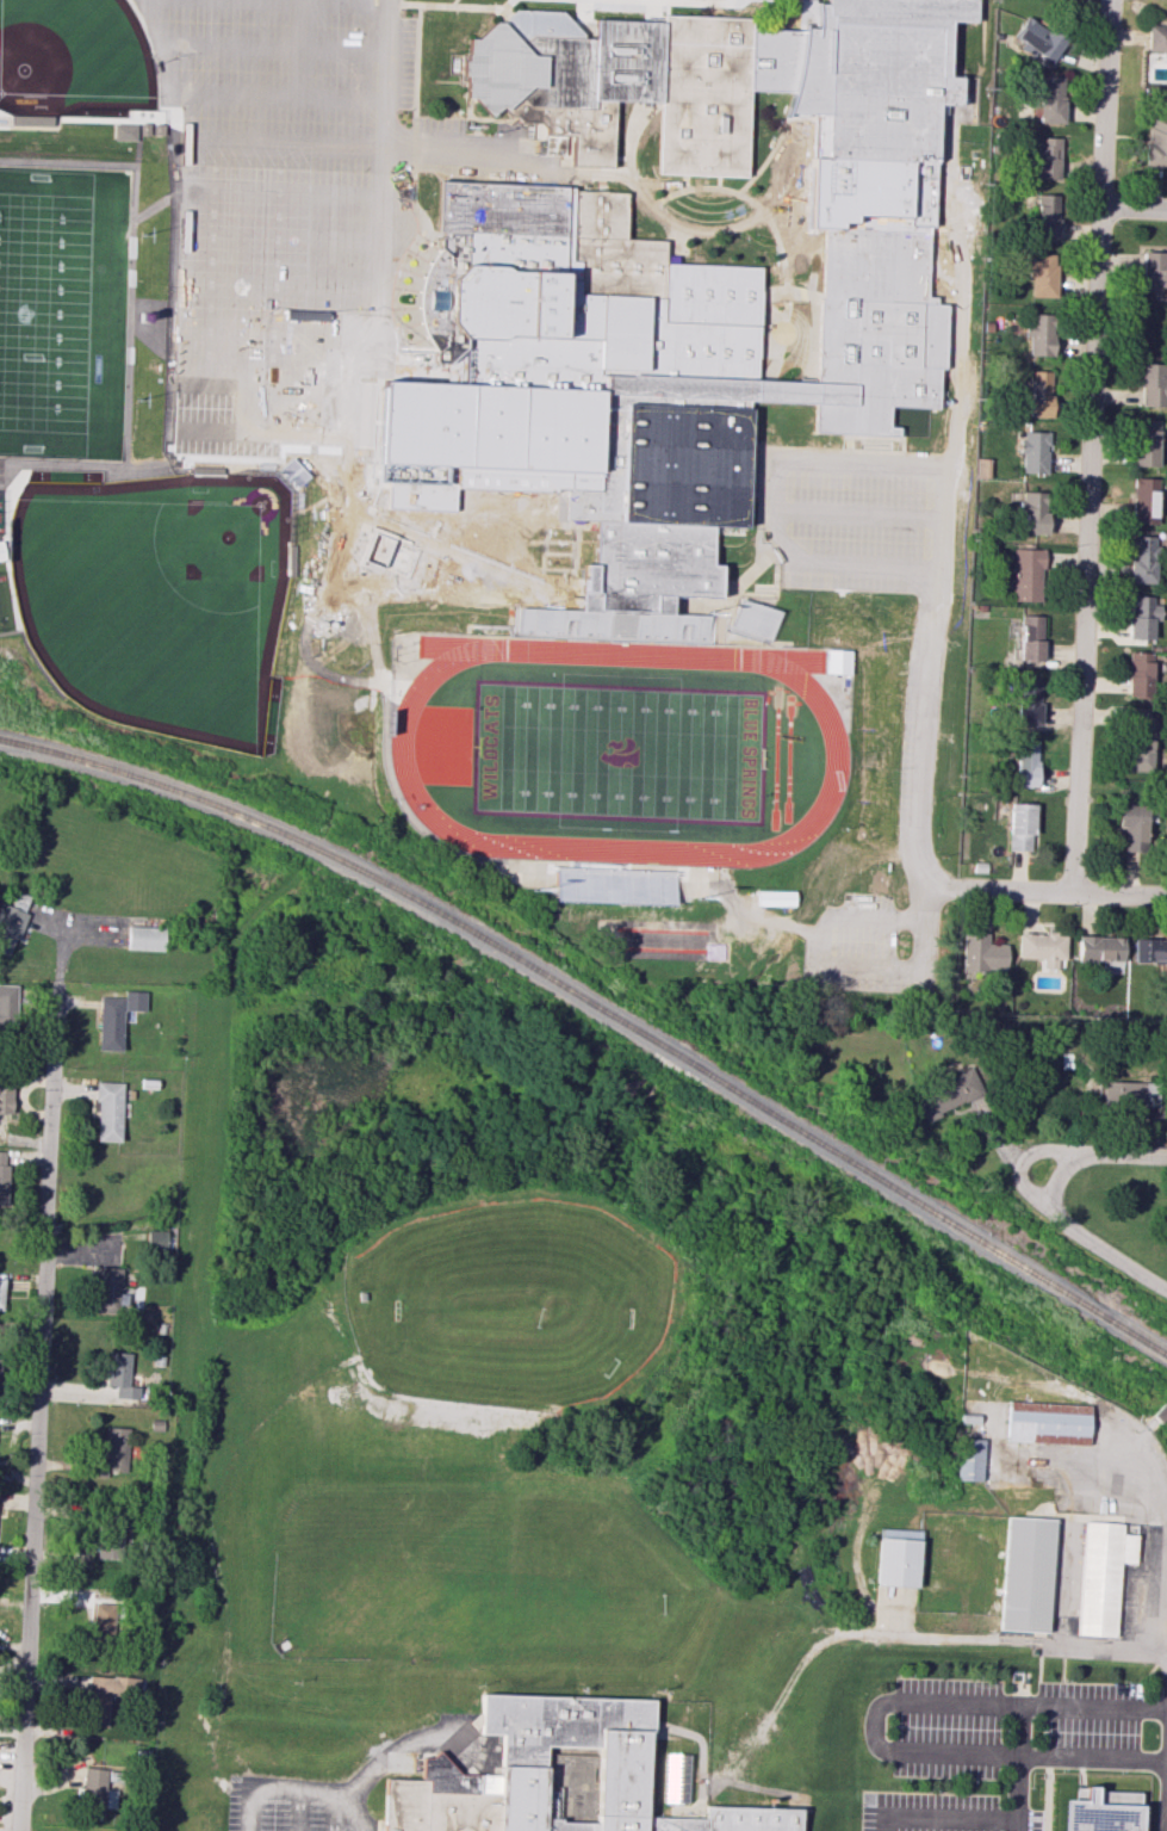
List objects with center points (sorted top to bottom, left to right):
road: (303, 23)
building: (1037, 38)
building: (1156, 38)
park: (74, 58)
building: (730, 79)
road: (166, 88)
building: (1048, 97)
road: (344, 101)
building: (31, 119)
building: (144, 128)
building: (157, 129)
building: (123, 130)
road: (632, 138)
road: (290, 142)
building: (1156, 142)
building: (1045, 157)
parking lot: (263, 169)
road: (621, 174)
road: (699, 187)
road: (744, 187)
road: (287, 191)
road: (728, 192)
road: (1132, 206)
building: (1048, 219)
road: (687, 230)
road: (677, 239)
road: (286, 240)
building: (1154, 267)
building: (1042, 274)
park: (43, 309)
road: (240, 328)
building: (1039, 334)
building: (632, 376)
building: (1153, 383)
building: (1041, 394)
building: (1146, 443)
road: (1088, 445)
road: (845, 450)
building: (1032, 452)
building: (981, 468)
building: (205, 469)
road: (761, 478)
building: (1143, 500)
building: (1032, 512)
building: (482, 542)
parking lot: (856, 546)
building: (0, 558)
building: (1141, 558)
building: (291, 559)
building: (1026, 574)
road: (536, 594)
park: (155, 596)
building: (1140, 617)
building: (753, 619)
building: (1029, 637)
building: (837, 661)
road: (325, 673)
building: (1136, 674)
building: (1025, 703)
building: (1135, 738)
road: (923, 742)
track: (833, 750)
park: (617, 753)
park: (774, 757)
park: (787, 757)
building: (1023, 763)
road: (411, 819)
building: (1132, 825)
building: (1019, 827)
road: (697, 874)
road: (931, 882)
road: (1055, 890)
building: (775, 897)
road: (862, 918)
building: (11, 921)
parking lot: (863, 924)
building: (144, 938)
park: (660, 939)
building: (1042, 947)
building: (1099, 947)
building: (1149, 949)
building: (981, 952)
road: (60, 960)
building: (8, 1007)
railway: (601, 1012)
building: (116, 1017)
building: (946, 1094)
building: (1125, 1094)
building: (5, 1095)
building: (107, 1111)
road: (1130, 1152)
road: (1029, 1156)
building: (4, 1180)
road: (1074, 1229)
building: (155, 1239)
building: (107, 1289)
building: (1, 1292)
park: (513, 1312)
building: (119, 1374)
road: (36, 1411)
building: (969, 1422)
building: (1048, 1424)
building: (114, 1452)
building: (970, 1461)
road: (1141, 1474)
building: (111, 1538)
road: (211, 1545)
building: (899, 1563)
park: (437, 1573)
building: (1026, 1575)
building: (1103, 1576)
road: (720, 1583)
building: (103, 1617)
road: (1025, 1643)
road: (763, 1650)
building: (108, 1695)
road: (784, 1703)
road: (342, 1705)
road: (935, 1705)
parking lot: (1090, 1716)
parking lot: (949, 1728)
road: (1018, 1731)
road: (678, 1732)
road: (664, 1734)
road: (1055, 1757)
building: (561, 1776)
building: (675, 1777)
road: (701, 1777)
road: (364, 1782)
road: (751, 1787)
building: (93, 1793)
road: (1165, 1796)
road: (249, 1812)
road: (353, 1812)
parking lot: (929, 1812)
building: (1104, 1812)
road: (299, 1813)
road: (333, 1813)
road: (944, 1818)
parking lot: (280, 1819)

